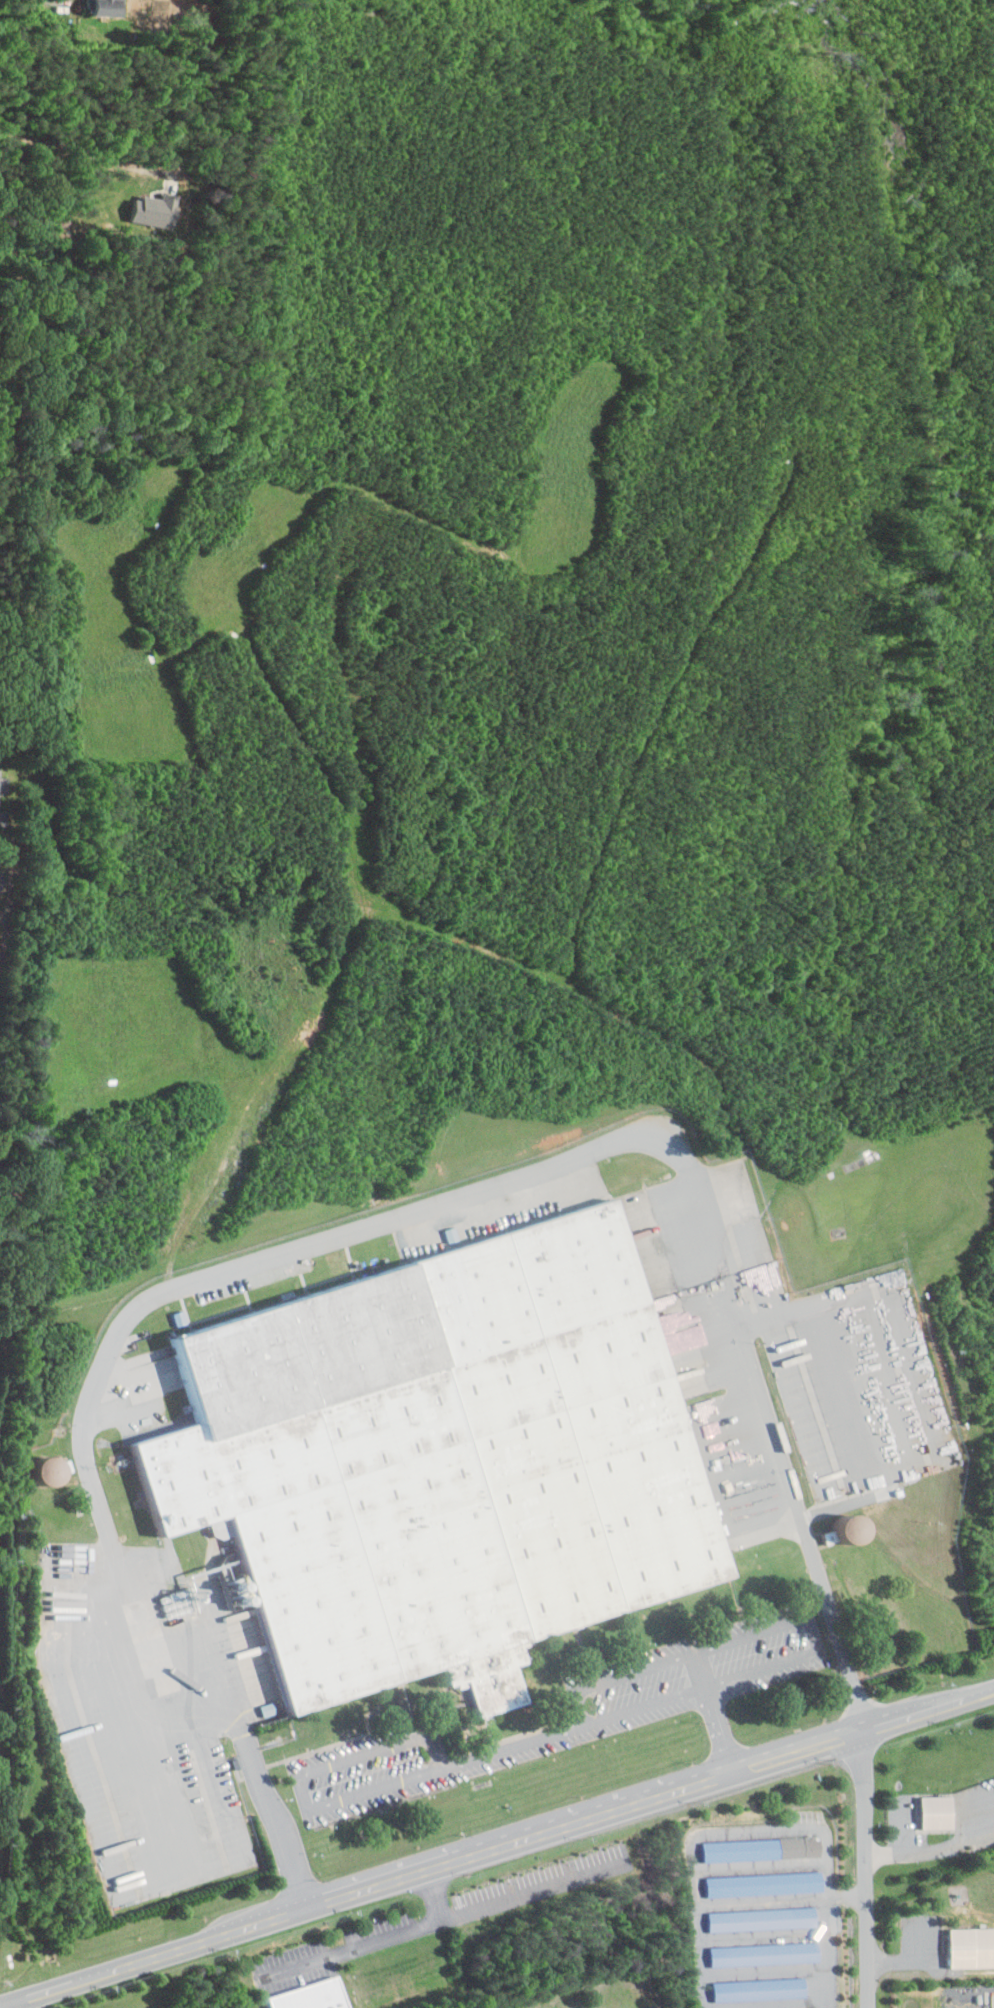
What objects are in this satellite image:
building: (163, 7)
building: (110, 8)
road: (79, 152)
building: (156, 209)
building: (3, 782)
road: (422, 1212)
parking lot: (846, 1368)
building: (449, 1463)
building: (54, 1471)
building: (853, 1530)
building: (179, 1604)
road: (747, 1636)
road: (701, 1670)
road: (646, 1705)
parking lot: (623, 1717)
road: (719, 1728)
road: (515, 1746)
road: (255, 1753)
road: (299, 1777)
building: (939, 1811)
road: (707, 1832)
road: (496, 1846)
building: (765, 1848)
road: (936, 1848)
road: (864, 1868)
building: (767, 1883)
road: (846, 1896)
building: (764, 1918)
road: (380, 1943)
building: (973, 1946)
building: (765, 1953)
road: (815, 1987)
building: (759, 1988)
building: (312, 1996)
road: (20, 2004)

